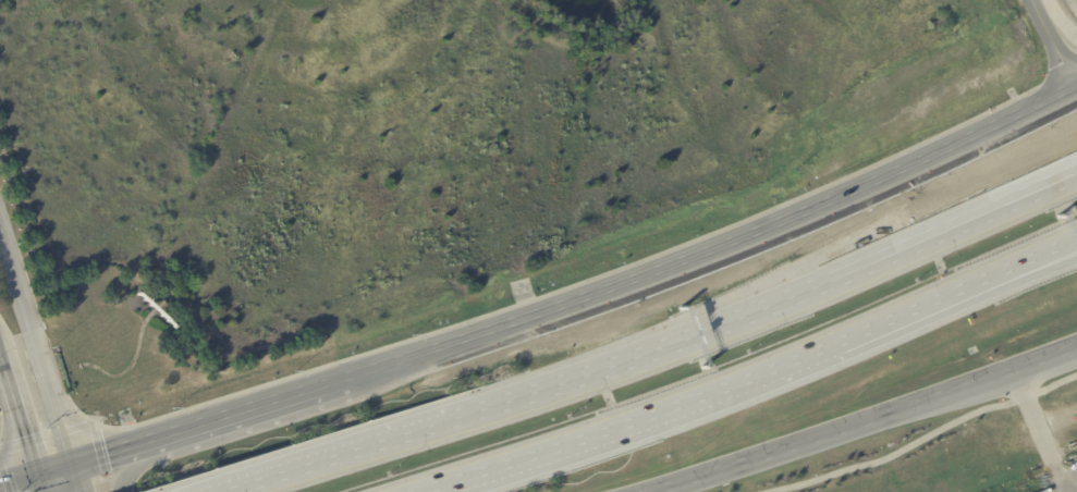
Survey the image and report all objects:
road: (1057, 40)
road: (1042, 186)
road: (720, 246)
road: (1018, 268)
road: (1018, 273)
road: (36, 348)
road: (660, 354)
road: (688, 403)
road: (252, 408)
road: (19, 414)
road: (858, 422)
road: (926, 439)
road: (111, 451)
traffic signals: (73, 463)
road: (131, 463)
road: (54, 468)
traffic signals: (37, 473)
road: (76, 477)
road: (19, 479)
road: (39, 482)

